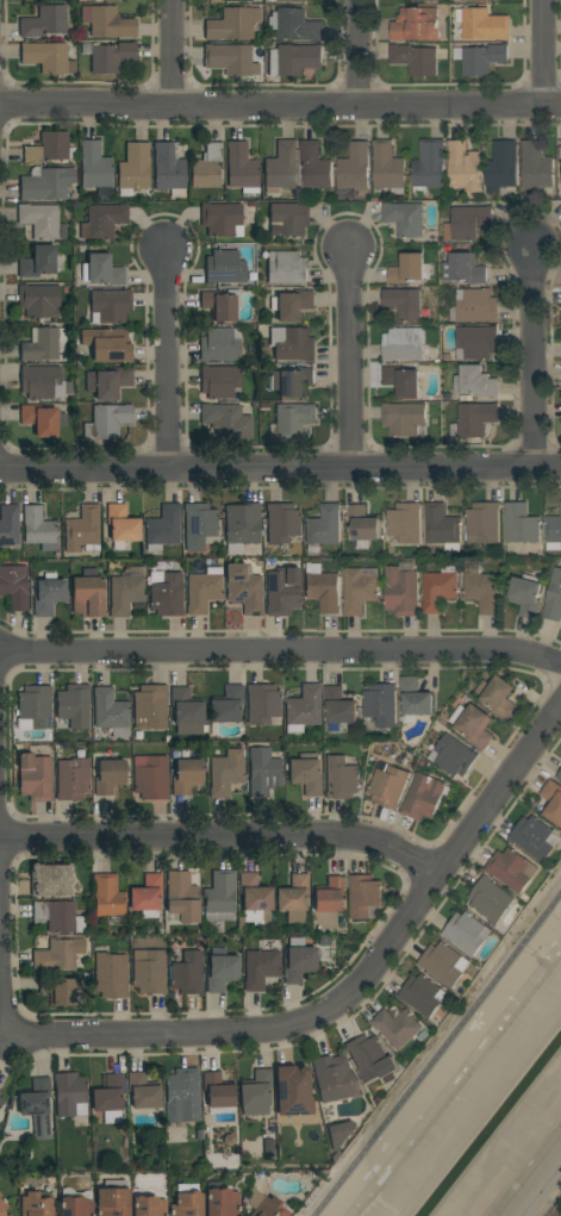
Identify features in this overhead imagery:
building: (106, 0)
building: (242, 0)
building: (285, 0)
building: (45, 21)
building: (107, 21)
building: (233, 24)
building: (294, 24)
building: (416, 24)
building: (484, 24)
road: (359, 52)
road: (544, 52)
road: (173, 54)
building: (49, 57)
building: (112, 57)
building: (481, 57)
building: (416, 58)
building: (230, 60)
building: (294, 60)
road: (280, 106)
building: (49, 148)
building: (560, 149)
building: (314, 166)
building: (429, 166)
building: (501, 166)
building: (536, 166)
building: (281, 167)
building: (355, 167)
building: (388, 167)
building: (206, 168)
building: (241, 168)
building: (95, 169)
building: (133, 169)
building: (463, 169)
building: (169, 170)
building: (46, 185)
building: (405, 217)
building: (289, 218)
building: (222, 219)
building: (42, 220)
building: (102, 220)
building: (468, 222)
building: (38, 262)
building: (225, 268)
building: (287, 268)
building: (409, 268)
building: (465, 268)
building: (102, 270)
building: (38, 300)
building: (404, 303)
building: (223, 305)
building: (292, 305)
building: (475, 305)
building: (111, 306)
building: (476, 342)
building: (404, 343)
building: (108, 344)
building: (293, 344)
building: (44, 345)
building: (220, 345)
road: (535, 356)
road: (168, 357)
road: (353, 357)
building: (403, 380)
building: (219, 381)
building: (289, 381)
building: (44, 382)
building: (108, 382)
building: (475, 382)
building: (264, 407)
building: (405, 418)
building: (43, 419)
building: (292, 419)
building: (474, 419)
building: (226, 420)
building: (107, 422)
road: (280, 468)
building: (405, 522)
building: (482, 522)
building: (282, 523)
building: (363, 523)
building: (521, 523)
building: (121, 524)
building: (10, 525)
building: (199, 525)
building: (242, 525)
building: (324, 525)
building: (442, 525)
building: (163, 528)
building: (39, 529)
building: (83, 530)
building: (553, 530)
building: (363, 544)
building: (14, 586)
building: (322, 587)
building: (440, 587)
building: (245, 588)
building: (360, 588)
building: (204, 591)
building: (401, 591)
building: (482, 591)
building: (282, 592)
building: (126, 593)
building: (166, 593)
building: (88, 594)
building: (526, 594)
building: (49, 595)
building: (554, 597)
road: (281, 653)
building: (416, 697)
building: (499, 697)
building: (263, 703)
building: (381, 704)
building: (227, 705)
building: (339, 705)
building: (35, 707)
building: (74, 707)
building: (150, 707)
building: (304, 709)
building: (187, 711)
building: (111, 712)
building: (474, 724)
building: (81, 754)
building: (453, 755)
building: (263, 772)
building: (226, 773)
building: (306, 774)
building: (187, 775)
building: (559, 775)
building: (33, 777)
building: (110, 777)
building: (151, 777)
building: (341, 778)
building: (73, 779)
building: (388, 785)
road: (500, 790)
building: (424, 796)
building: (553, 799)
building: (534, 837)
road: (224, 838)
building: (513, 868)
building: (54, 881)
building: (330, 896)
building: (364, 896)
building: (108, 897)
building: (147, 897)
building: (182, 897)
building: (220, 897)
building: (294, 898)
building: (492, 899)
building: (256, 900)
building: (58, 917)
building: (241, 924)
building: (468, 931)
building: (324, 940)
building: (58, 954)
building: (298, 960)
building: (445, 962)
building: (261, 967)
building: (222, 971)
building: (149, 972)
building: (188, 973)
building: (111, 975)
building: (63, 991)
building: (423, 994)
road: (2, 1019)
building: (400, 1027)
road: (256, 1030)
building: (372, 1059)
road: (441, 1061)
building: (335, 1079)
building: (293, 1090)
building: (143, 1091)
building: (182, 1091)
building: (0, 1092)
building: (219, 1093)
building: (256, 1093)
building: (70, 1095)
building: (110, 1099)
building: (1, 1103)
building: (37, 1106)
building: (339, 1133)
building: (198, 1134)
building: (269, 1148)
building: (112, 1198)
building: (187, 1201)
building: (220, 1202)
building: (36, 1204)
building: (2, 1205)
building: (75, 1205)
building: (148, 1205)
building: (266, 1205)
building: (8, 1215)

